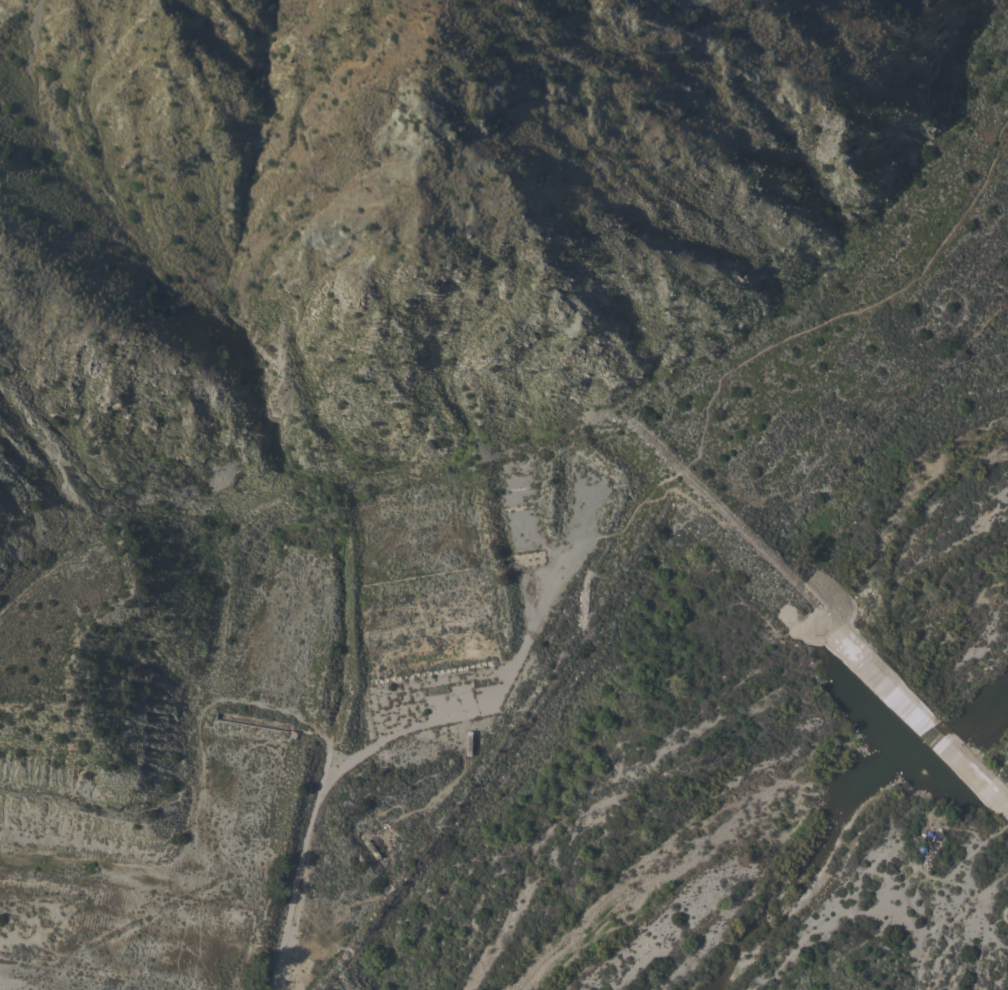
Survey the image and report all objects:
quarry: (298, 455)
river: (927, 674)
road: (389, 735)
river: (854, 761)
river: (761, 826)

